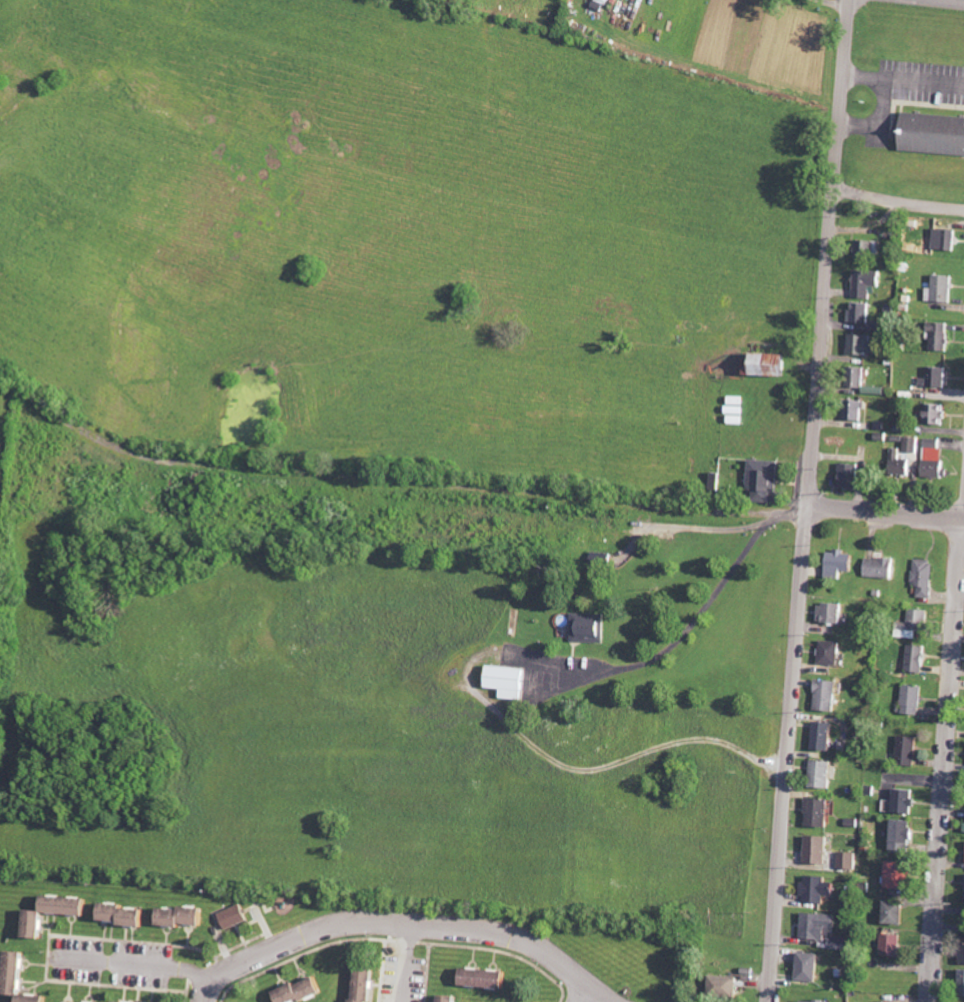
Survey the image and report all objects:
building: (603, 5)
road: (903, 83)
road: (879, 121)
building: (932, 133)
road: (898, 197)
building: (946, 239)
building: (869, 248)
road: (828, 252)
building: (868, 282)
building: (944, 289)
building: (862, 312)
building: (941, 336)
building: (863, 343)
building: (770, 364)
building: (859, 377)
building: (937, 377)
building: (735, 410)
building: (857, 410)
building: (938, 413)
building: (912, 444)
building: (936, 459)
building: (901, 463)
building: (852, 475)
building: (766, 480)
road: (713, 499)
road: (963, 514)
building: (842, 563)
building: (882, 567)
building: (926, 577)
building: (835, 612)
building: (918, 622)
building: (591, 627)
building: (833, 653)
building: (918, 658)
building: (510, 681)
building: (829, 695)
building: (913, 699)
building: (827, 736)
building: (909, 750)
road: (788, 753)
road: (944, 760)
building: (825, 774)
building: (902, 802)
building: (821, 812)
building: (903, 835)
building: (820, 850)
building: (850, 861)
building: (900, 875)
building: (819, 889)
building: (67, 905)
building: (894, 912)
building: (125, 915)
building: (185, 917)
building: (235, 917)
road: (355, 921)
building: (36, 924)
building: (824, 929)
building: (892, 945)
building: (963, 951)
road: (407, 960)
building: (811, 967)
building: (16, 973)
building: (487, 978)
building: (962, 983)
building: (367, 984)
road: (208, 986)
building: (727, 986)
building: (304, 991)
road: (589, 991)
building: (36, 998)
building: (451, 999)
building: (816, 1001)

